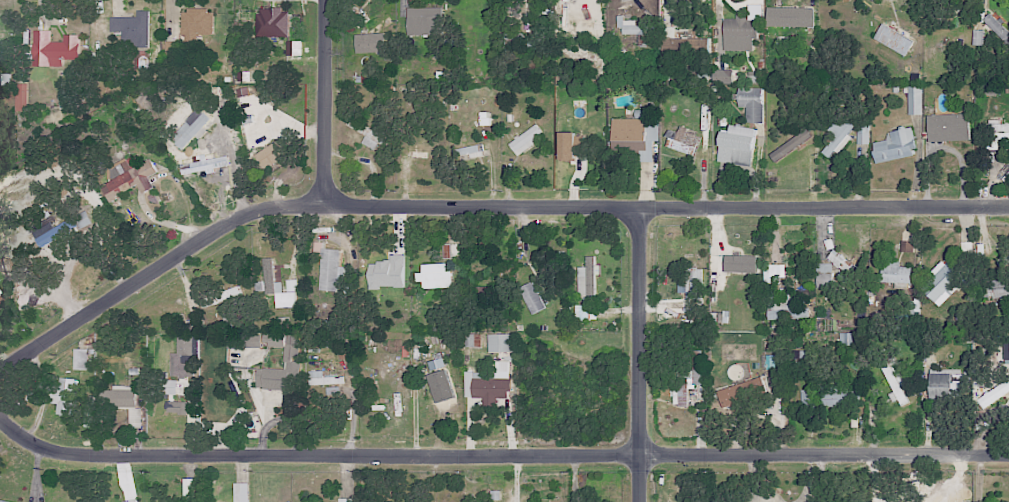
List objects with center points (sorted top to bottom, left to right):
building: (790, 17)
building: (424, 20)
building: (273, 22)
building: (196, 24)
building: (996, 26)
building: (131, 28)
building: (636, 29)
building: (739, 33)
building: (895, 36)
building: (371, 42)
building: (673, 44)
building: (293, 47)
building: (171, 48)
building: (54, 49)
building: (723, 76)
building: (21, 97)
building: (915, 99)
road: (324, 101)
building: (752, 103)
building: (948, 127)
building: (191, 129)
building: (367, 134)
building: (993, 134)
building: (635, 136)
building: (862, 136)
building: (836, 138)
building: (526, 139)
building: (683, 141)
building: (571, 145)
building: (737, 145)
building: (790, 145)
building: (895, 145)
building: (420, 149)
building: (474, 151)
building: (271, 155)
building: (205, 165)
building: (128, 176)
road: (481, 205)
building: (453, 250)
building: (331, 270)
building: (387, 272)
building: (773, 272)
building: (895, 274)
building: (823, 275)
building: (435, 276)
building: (270, 277)
building: (587, 277)
building: (942, 281)
building: (692, 283)
building: (992, 288)
building: (33, 296)
building: (532, 297)
building: (285, 299)
building: (2, 301)
building: (787, 307)
building: (586, 309)
building: (848, 338)
building: (475, 339)
building: (251, 340)
building: (500, 343)
road: (639, 355)
building: (184, 357)
building: (82, 358)
building: (440, 372)
building: (687, 376)
building: (275, 378)
building: (322, 378)
building: (894, 378)
building: (491, 383)
building: (994, 393)
building: (733, 394)
building: (63, 395)
building: (837, 395)
building: (120, 398)
building: (806, 398)
building: (177, 407)
road: (499, 457)
building: (190, 490)
building: (241, 492)
building: (4, 501)
building: (131, 501)

